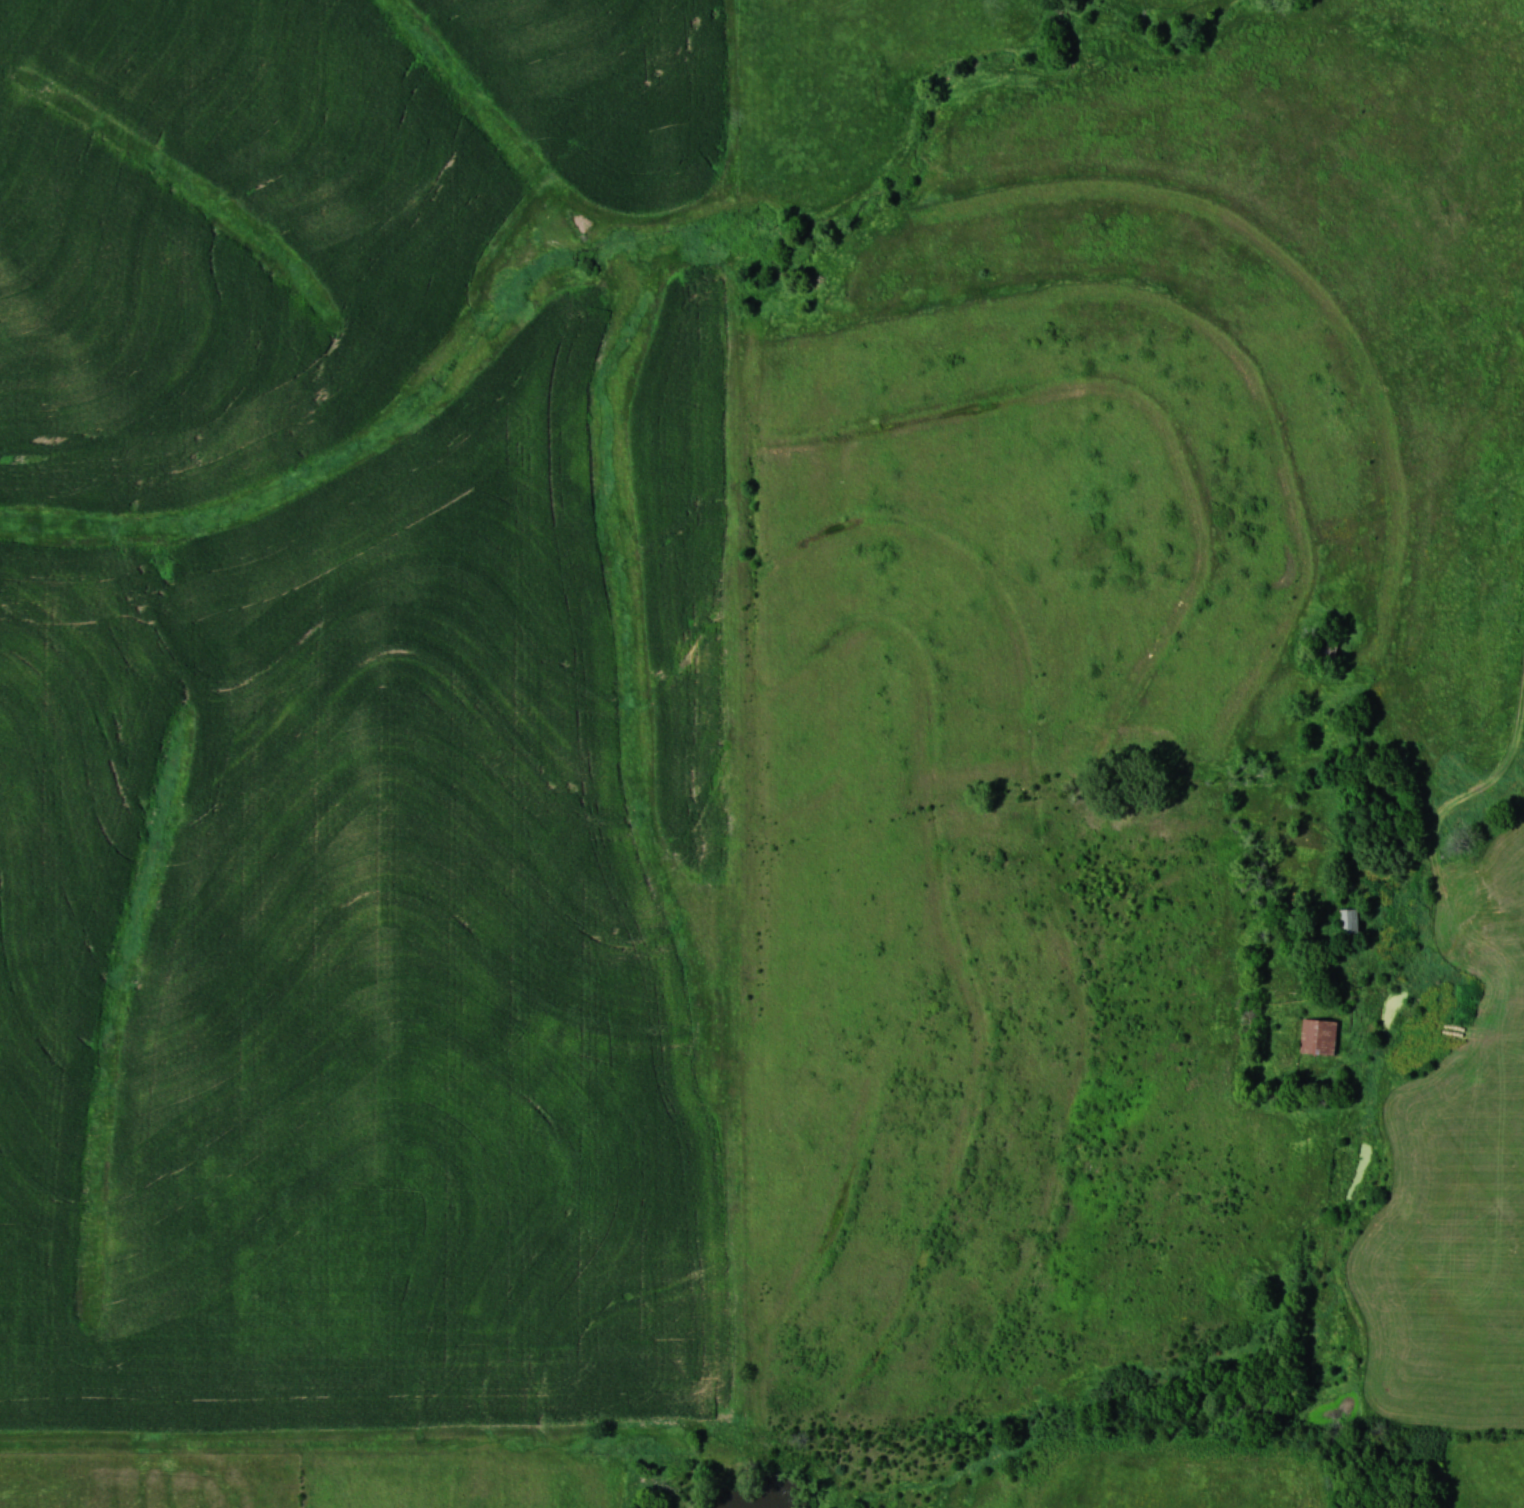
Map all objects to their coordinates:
building: (1351, 927)
building: (1320, 1036)

